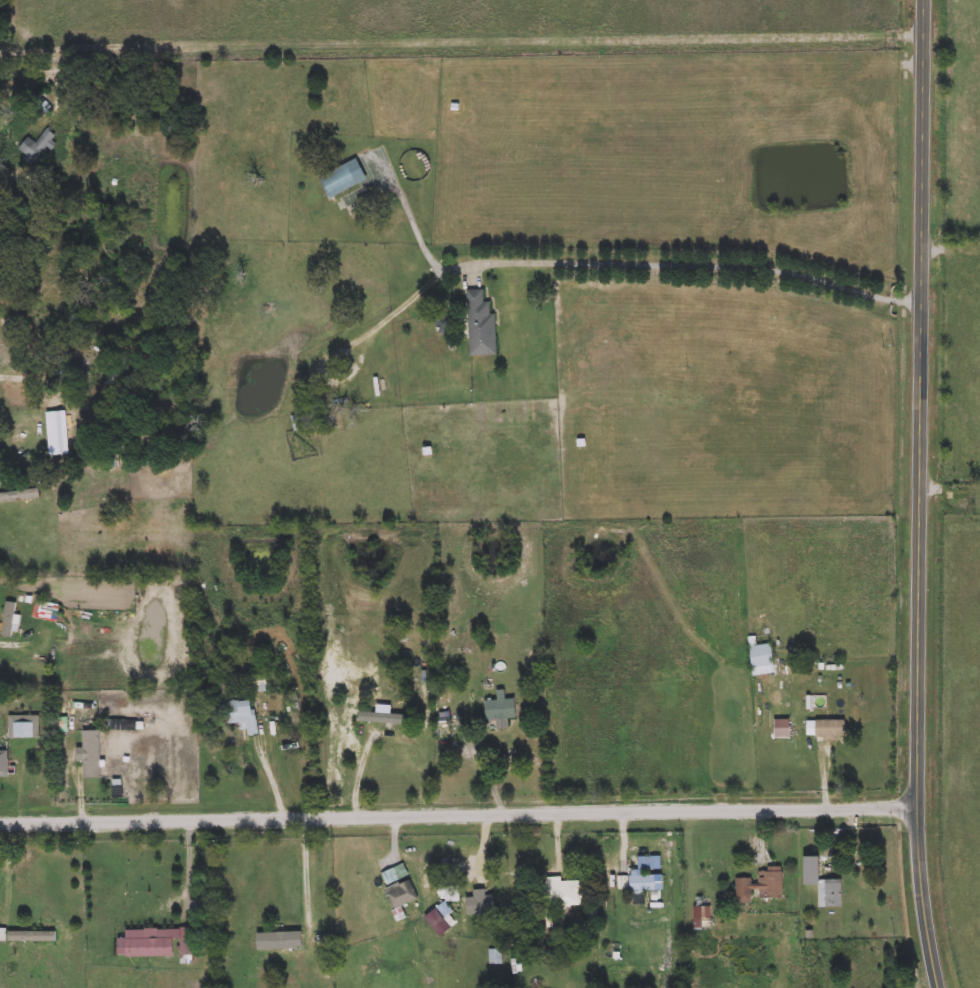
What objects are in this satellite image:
building: (37, 146)
building: (344, 178)
road: (630, 264)
road: (387, 318)
building: (481, 325)
road: (16, 376)
building: (310, 417)
building: (60, 421)
road: (919, 494)
building: (9, 619)
road: (3, 643)
building: (761, 654)
building: (501, 708)
building: (392, 711)
building: (243, 715)
building: (24, 726)
building: (825, 730)
building: (92, 754)
road: (484, 758)
building: (4, 764)
road: (828, 774)
road: (276, 782)
road: (363, 782)
road: (458, 815)
road: (626, 839)
road: (193, 868)
building: (395, 874)
road: (310, 880)
building: (642, 881)
building: (619, 883)
building: (823, 884)
building: (760, 885)
building: (454, 893)
building: (403, 894)
building: (702, 913)
building: (32, 936)
building: (158, 943)
building: (279, 947)
building: (495, 958)

